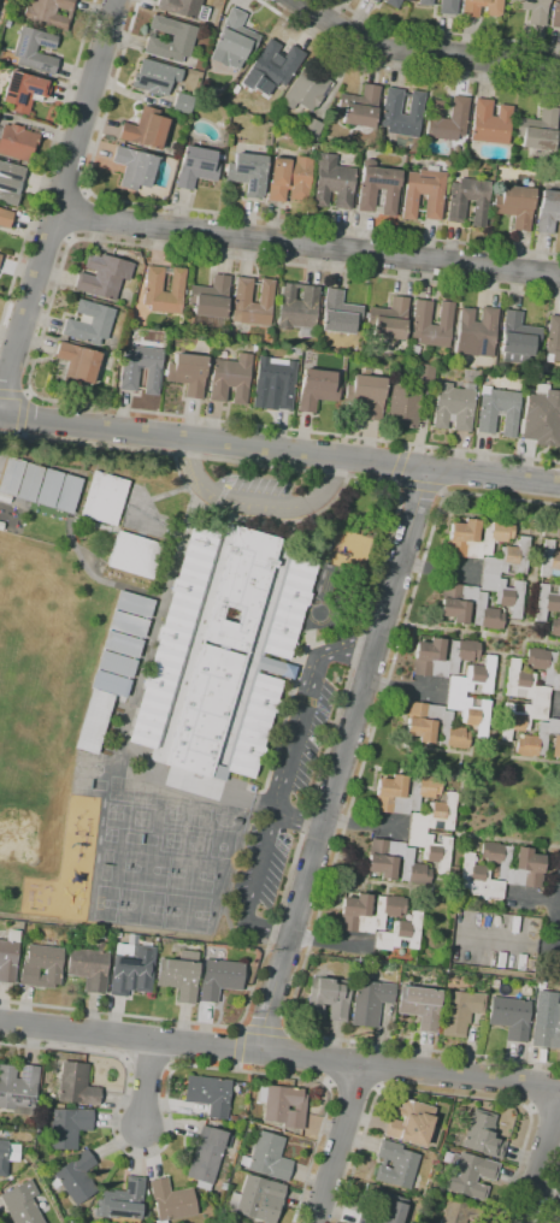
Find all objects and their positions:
building: (373, 1)
building: (393, 2)
building: (424, 2)
building: (447, 6)
building: (183, 8)
building: (470, 10)
building: (531, 10)
building: (48, 12)
building: (555, 13)
road: (443, 34)
building: (232, 40)
building: (181, 41)
building: (34, 51)
road: (418, 52)
building: (271, 67)
road: (401, 70)
building: (154, 77)
building: (235, 89)
building: (305, 89)
building: (23, 91)
building: (182, 104)
building: (390, 106)
building: (359, 107)
building: (447, 119)
building: (490, 122)
building: (310, 128)
building: (145, 129)
building: (538, 131)
building: (18, 141)
building: (559, 147)
road: (47, 160)
building: (134, 167)
building: (195, 167)
building: (247, 173)
building: (289, 179)
building: (332, 182)
building: (10, 183)
road: (64, 187)
building: (377, 188)
building: (423, 194)
road: (59, 203)
building: (456, 205)
building: (514, 206)
building: (377, 211)
building: (547, 211)
road: (224, 213)
road: (78, 215)
building: (5, 218)
road: (49, 232)
road: (308, 247)
building: (0, 256)
building: (102, 276)
building: (153, 283)
building: (242, 294)
building: (208, 302)
building: (296, 308)
building: (338, 313)
building: (422, 314)
building: (388, 319)
building: (89, 323)
building: (474, 332)
road: (39, 337)
building: (517, 338)
building: (553, 338)
building: (413, 349)
building: (76, 364)
building: (187, 373)
building: (424, 373)
building: (128, 377)
building: (230, 379)
building: (273, 384)
building: (316, 389)
road: (11, 394)
road: (25, 394)
building: (366, 395)
building: (402, 406)
building: (453, 407)
building: (497, 410)
road: (19, 413)
building: (542, 419)
road: (18, 432)
road: (403, 447)
road: (279, 451)
road: (397, 465)
building: (8, 474)
road: (391, 480)
building: (26, 481)
road: (395, 483)
road: (418, 485)
building: (46, 488)
parking lot: (257, 489)
road: (440, 490)
building: (65, 492)
building: (104, 498)
road: (257, 504)
building: (497, 531)
building: (559, 537)
building: (134, 555)
building: (549, 561)
road: (438, 568)
building: (489, 577)
building: (241, 587)
building: (547, 601)
building: (134, 604)
building: (454, 605)
building: (288, 607)
building: (338, 615)
building: (128, 624)
building: (555, 627)
building: (173, 637)
building: (202, 642)
building: (122, 644)
building: (224, 648)
building: (246, 654)
building: (260, 654)
building: (441, 657)
building: (116, 664)
building: (559, 664)
building: (544, 666)
building: (275, 667)
building: (255, 670)
road: (346, 679)
building: (111, 684)
road: (405, 687)
building: (455, 696)
building: (538, 701)
road: (555, 704)
building: (205, 710)
park: (16, 714)
building: (93, 721)
building: (253, 726)
building: (434, 726)
road: (294, 727)
building: (541, 740)
road: (342, 760)
park: (79, 767)
park: (96, 769)
building: (387, 769)
building: (218, 773)
park: (89, 784)
building: (249, 787)
parking lot: (287, 787)
park: (119, 788)
park: (142, 791)
building: (403, 793)
park: (175, 813)
park: (198, 815)
park: (224, 815)
park: (117, 816)
park: (140, 819)
building: (237, 821)
road: (365, 823)
road: (340, 833)
building: (414, 833)
park: (108, 835)
park: (140, 839)
park: (171, 840)
park: (194, 843)
building: (536, 843)
park: (220, 845)
building: (395, 862)
park: (105, 864)
park: (145, 869)
building: (500, 870)
park: (190, 875)
road: (252, 887)
road: (534, 897)
park: (104, 904)
park: (140, 906)
building: (367, 911)
park: (185, 912)
building: (117, 934)
building: (400, 934)
parking lot: (494, 941)
road: (329, 943)
road: (509, 943)
building: (8, 957)
building: (41, 967)
building: (89, 967)
building: (131, 969)
building: (179, 975)
building: (219, 979)
building: (540, 985)
building: (329, 997)
building: (370, 1002)
building: (419, 1006)
building: (459, 1011)
building: (509, 1017)
building: (546, 1026)
road: (237, 1027)
road: (263, 1032)
road: (289, 1032)
road: (237, 1046)
road: (279, 1054)
road: (235, 1068)
road: (353, 1082)
road: (147, 1083)
road: (329, 1083)
building: (75, 1085)
building: (18, 1088)
road: (166, 1088)
road: (377, 1088)
building: (208, 1094)
road: (446, 1094)
building: (283, 1106)
road: (546, 1110)
building: (234, 1119)
building: (411, 1123)
building: (66, 1127)
building: (481, 1135)
road: (337, 1144)
building: (7, 1156)
building: (206, 1156)
building: (267, 1157)
road: (541, 1159)
building: (395, 1165)
building: (468, 1175)
building: (73, 1177)
road: (552, 1198)
building: (257, 1199)
building: (123, 1201)
building: (171, 1201)
building: (20, 1203)
building: (384, 1210)
building: (79, 1211)
building: (146, 1211)
building: (459, 1212)

